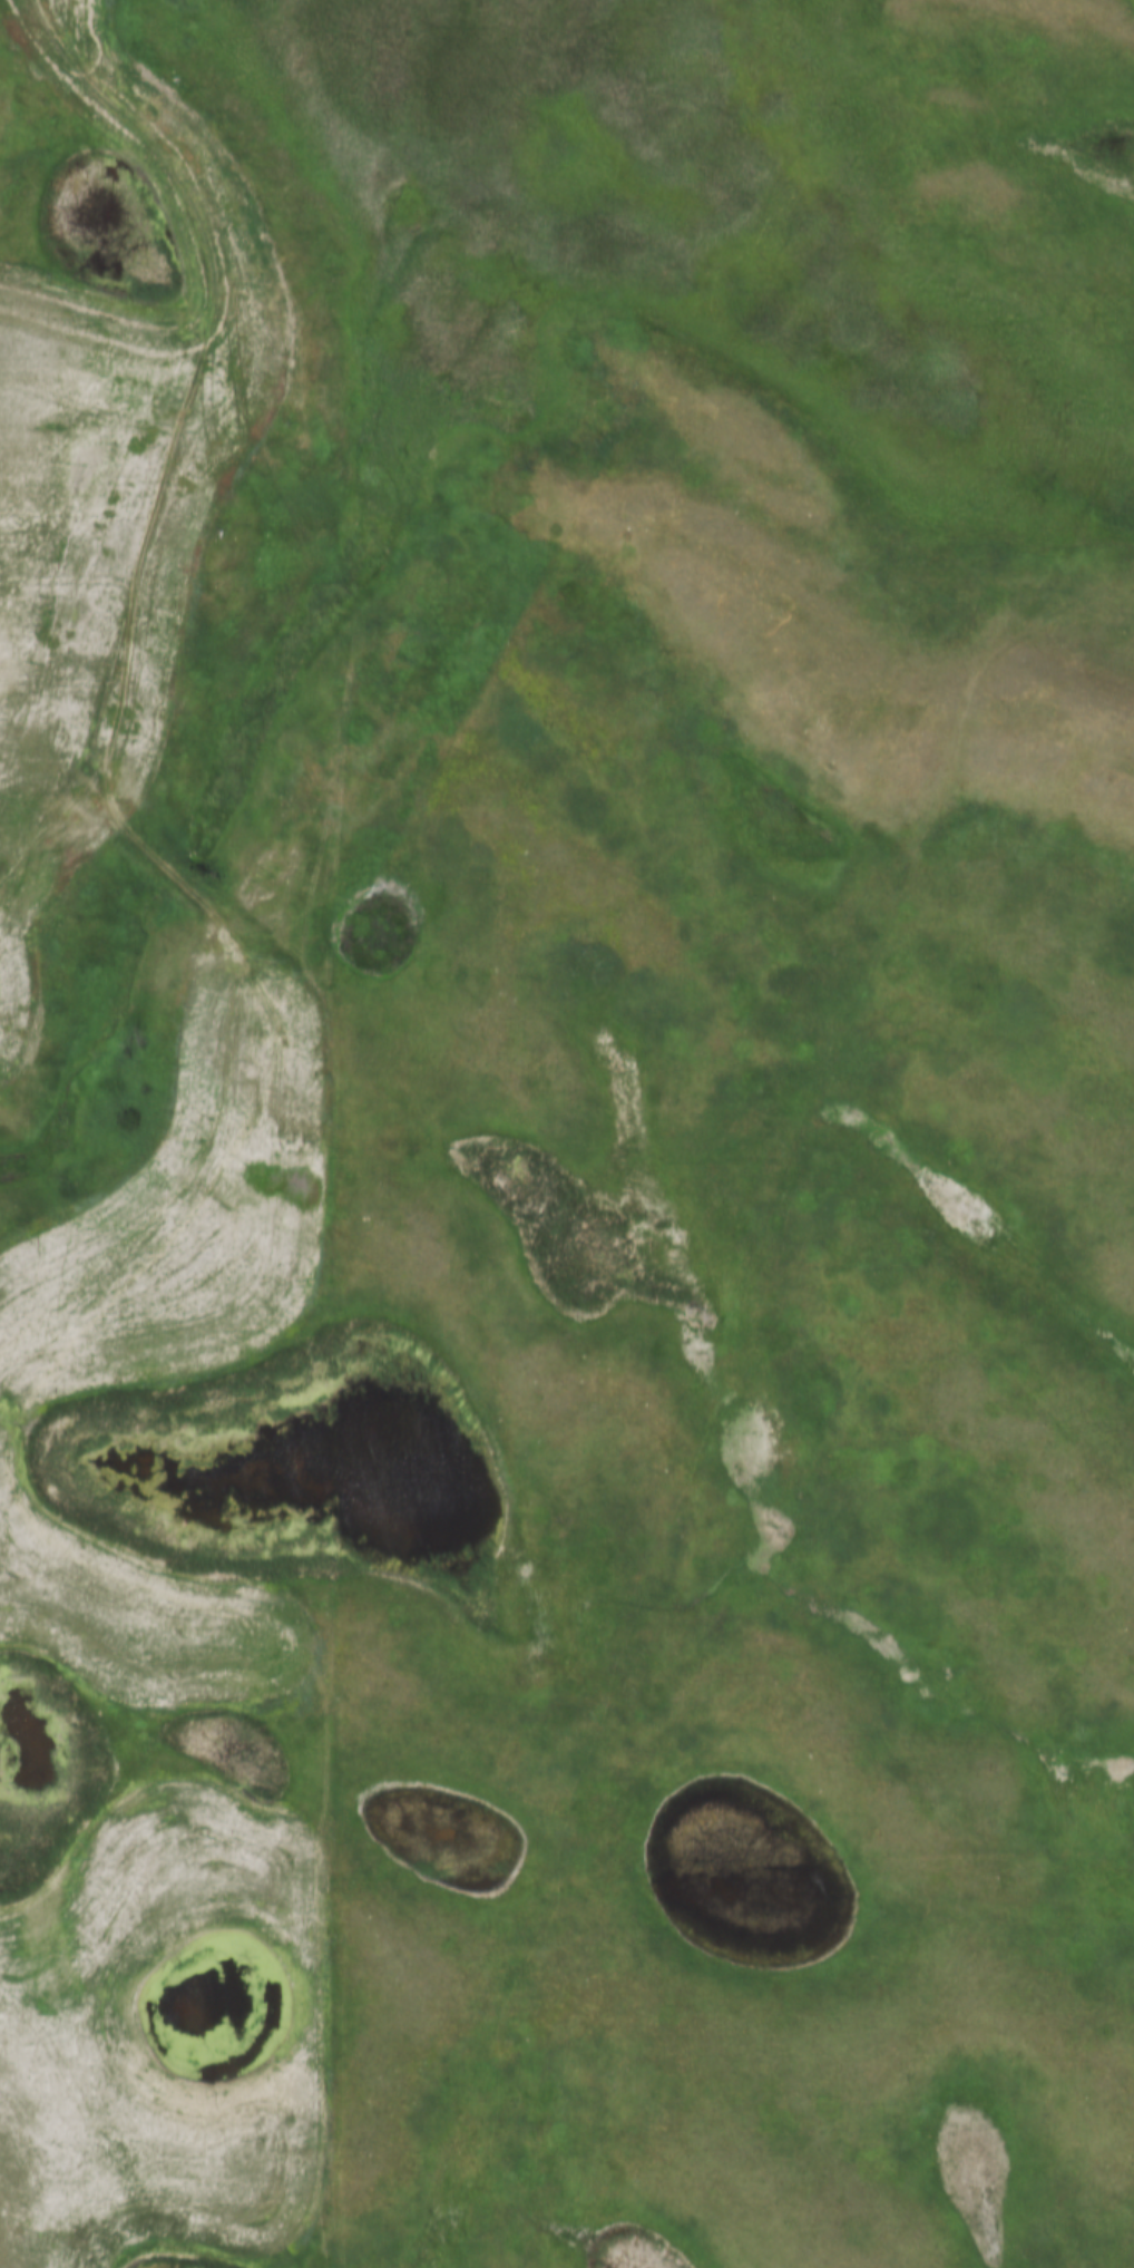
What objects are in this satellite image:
road: (134, 466)

